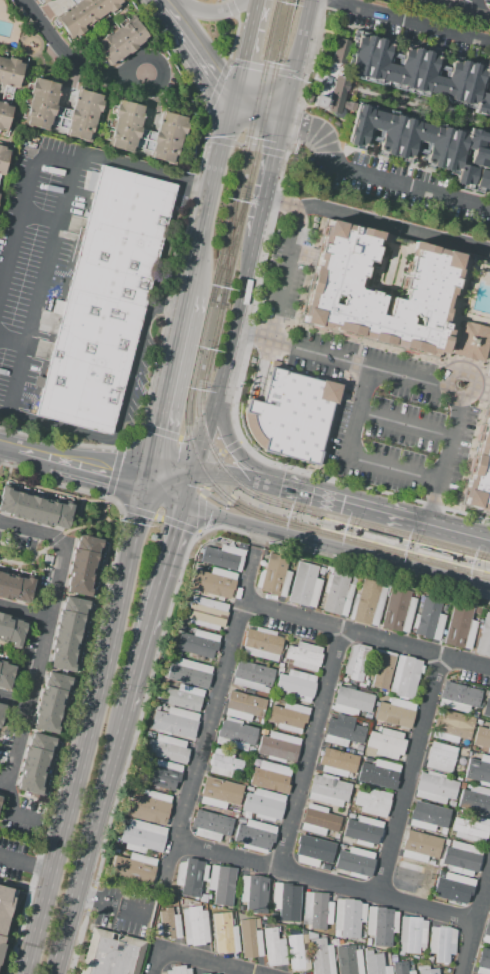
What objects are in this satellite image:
building: (41, 1)
building: (489, 2)
road: (476, 5)
road: (463, 7)
road: (232, 8)
road: (208, 12)
building: (84, 14)
road: (406, 21)
railway: (276, 31)
railway: (286, 32)
road: (234, 38)
building: (120, 42)
road: (193, 49)
road: (246, 49)
building: (339, 51)
road: (298, 57)
road: (76, 63)
road: (266, 69)
building: (421, 74)
building: (9, 75)
road: (218, 85)
road: (301, 88)
traffic signals: (231, 98)
building: (40, 104)
road: (257, 107)
building: (4, 115)
building: (84, 115)
traffic signals: (285, 115)
building: (125, 126)
road: (295, 129)
building: (167, 138)
road: (248, 146)
building: (450, 150)
building: (3, 159)
road: (140, 168)
road: (377, 175)
road: (269, 176)
road: (208, 193)
road: (22, 202)
road: (38, 219)
road: (377, 224)
railway: (233, 244)
railway: (233, 244)
parking lot: (35, 253)
road: (303, 255)
park: (389, 267)
road: (284, 271)
railway: (226, 279)
railway: (214, 285)
road: (38, 291)
building: (339, 291)
building: (105, 299)
road: (161, 330)
road: (12, 341)
building: (471, 341)
road: (226, 355)
road: (260, 370)
road: (474, 374)
road: (409, 375)
fountain: (459, 383)
road: (165, 384)
road: (234, 400)
building: (290, 414)
road: (406, 424)
traffic signals: (156, 426)
road: (159, 432)
road: (225, 434)
road: (178, 439)
road: (198, 444)
road: (7, 445)
road: (231, 447)
road: (220, 452)
road: (222, 455)
road: (348, 457)
road: (63, 461)
road: (1, 464)
building: (480, 470)
road: (213, 472)
traffic signals: (109, 473)
road: (114, 473)
road: (170, 476)
road: (130, 477)
road: (226, 477)
traffic signals: (280, 486)
road: (189, 488)
road: (204, 491)
road: (165, 492)
road: (68, 495)
road: (214, 499)
road: (230, 499)
road: (336, 500)
building: (33, 509)
road: (135, 511)
road: (276, 511)
road: (200, 514)
road: (104, 516)
road: (156, 517)
road: (82, 524)
railway: (320, 525)
railway: (363, 525)
road: (181, 526)
traffic signals: (177, 529)
road: (451, 529)
road: (32, 531)
building: (377, 537)
road: (54, 538)
building: (152, 538)
road: (259, 538)
building: (217, 541)
railway: (358, 542)
road: (336, 548)
building: (432, 555)
building: (221, 557)
building: (291, 562)
building: (82, 565)
road: (375, 567)
building: (289, 569)
building: (321, 570)
road: (249, 574)
building: (273, 576)
building: (353, 580)
building: (213, 583)
building: (304, 585)
building: (15, 588)
building: (336, 594)
building: (367, 603)
road: (152, 606)
building: (398, 610)
building: (206, 613)
road: (24, 615)
building: (429, 619)
road: (48, 623)
road: (99, 626)
building: (180, 627)
building: (460, 627)
building: (11, 630)
building: (67, 633)
road: (365, 636)
building: (484, 638)
building: (261, 643)
building: (198, 644)
building: (304, 656)
building: (282, 657)
building: (356, 661)
building: (279, 670)
building: (380, 671)
building: (189, 673)
building: (276, 674)
building: (5, 675)
building: (252, 676)
building: (343, 677)
building: (405, 677)
building: (164, 682)
building: (364, 683)
building: (296, 685)
building: (182, 697)
building: (458, 697)
building: (270, 700)
road: (14, 701)
building: (352, 701)
building: (50, 702)
building: (244, 706)
building: (487, 707)
building: (1, 710)
building: (396, 712)
building: (475, 713)
building: (366, 716)
building: (289, 717)
road: (137, 721)
building: (174, 722)
building: (479, 722)
building: (377, 724)
building: (451, 726)
road: (87, 728)
building: (342, 731)
building: (264, 732)
building: (235, 735)
building: (482, 737)
road: (203, 739)
building: (386, 743)
building: (278, 747)
building: (166, 748)
road: (308, 748)
building: (358, 749)
road: (17, 752)
building: (440, 757)
building: (34, 763)
building: (224, 763)
building: (255, 763)
building: (338, 763)
building: (477, 769)
building: (378, 773)
building: (164, 775)
road: (408, 775)
building: (270, 777)
building: (237, 778)
building: (356, 786)
building: (248, 788)
building: (435, 788)
building: (327, 790)
building: (353, 791)
building: (219, 793)
building: (0, 794)
building: (0, 797)
building: (475, 799)
building: (373, 802)
building: (451, 803)
building: (263, 805)
building: (149, 808)
building: (234, 811)
building: (351, 816)
building: (428, 816)
building: (241, 820)
building: (319, 820)
building: (210, 825)
building: (470, 828)
building: (443, 831)
building: (363, 832)
building: (255, 836)
building: (336, 836)
building: (142, 837)
road: (88, 841)
building: (332, 843)
building: (445, 843)
building: (341, 846)
building: (420, 847)
building: (309, 852)
building: (461, 859)
road: (24, 863)
building: (355, 863)
building: (133, 869)
building: (191, 876)
building: (410, 877)
road: (326, 880)
building: (222, 884)
building: (454, 889)
building: (253, 893)
building: (208, 896)
building: (287, 900)
building: (241, 906)
building: (5, 908)
building: (317, 910)
building: (348, 918)
building: (257, 923)
road: (476, 923)
building: (168, 925)
building: (380, 925)
building: (194, 926)
building: (487, 932)
building: (224, 934)
building: (411, 934)
building: (249, 939)
building: (305, 939)
building: (367, 942)
building: (442, 943)
building: (361, 947)
building: (273, 948)
building: (368, 952)
building: (111, 954)
building: (296, 955)
building: (320, 955)
building: (415, 957)
building: (393, 958)
building: (429, 958)
building: (348, 960)
road: (154, 961)
road: (207, 961)
building: (410, 962)
building: (416, 962)
building: (483, 962)
building: (375, 964)
building: (439, 965)
building: (422, 967)
building: (401, 968)
building: (178, 970)
building: (428, 971)
building: (207, 973)
building: (216, 973)

